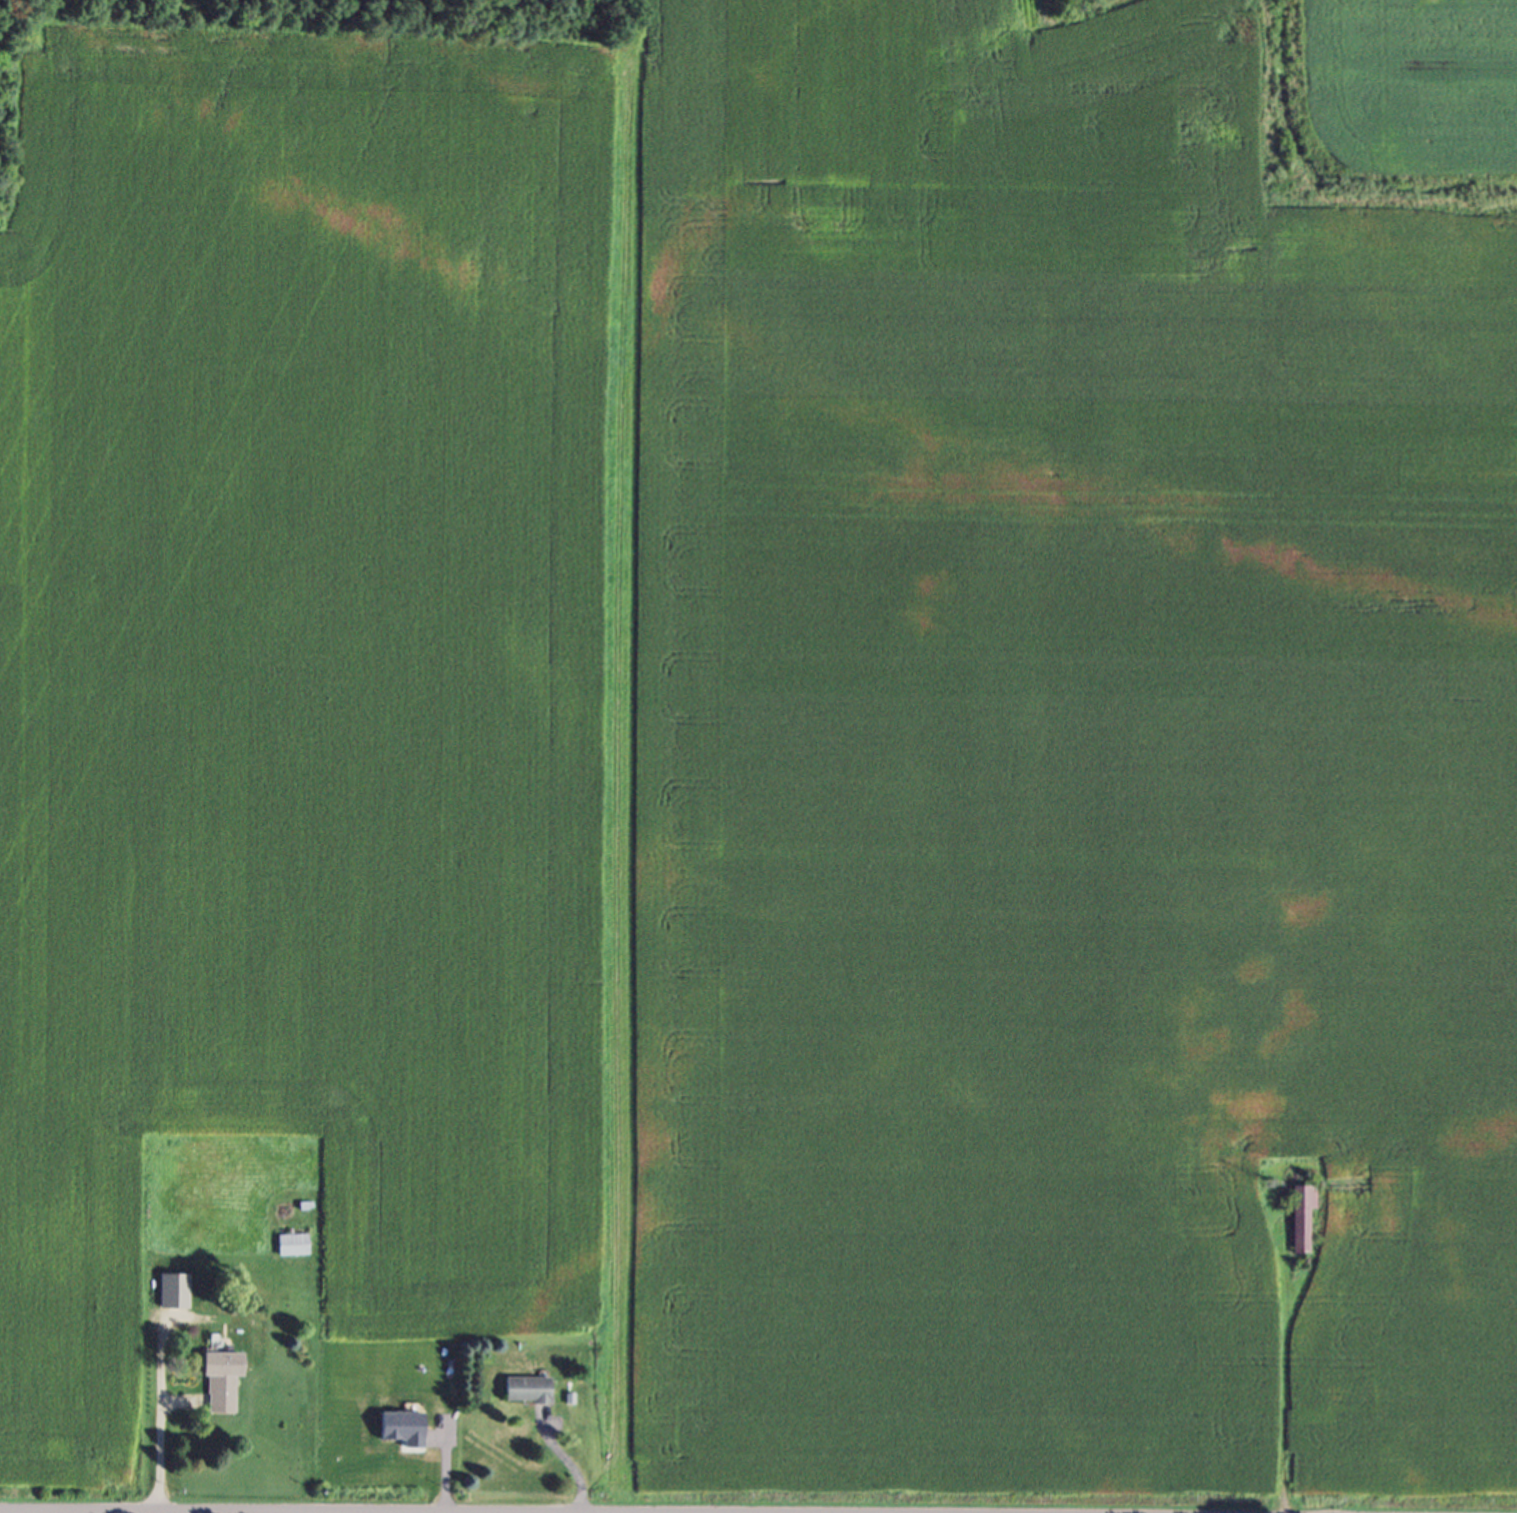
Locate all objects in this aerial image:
building: (1303, 1221)
building: (296, 1248)
building: (175, 1295)
building: (223, 1383)
building: (528, 1394)
road: (157, 1414)
road: (566, 1459)
road: (205, 1512)

